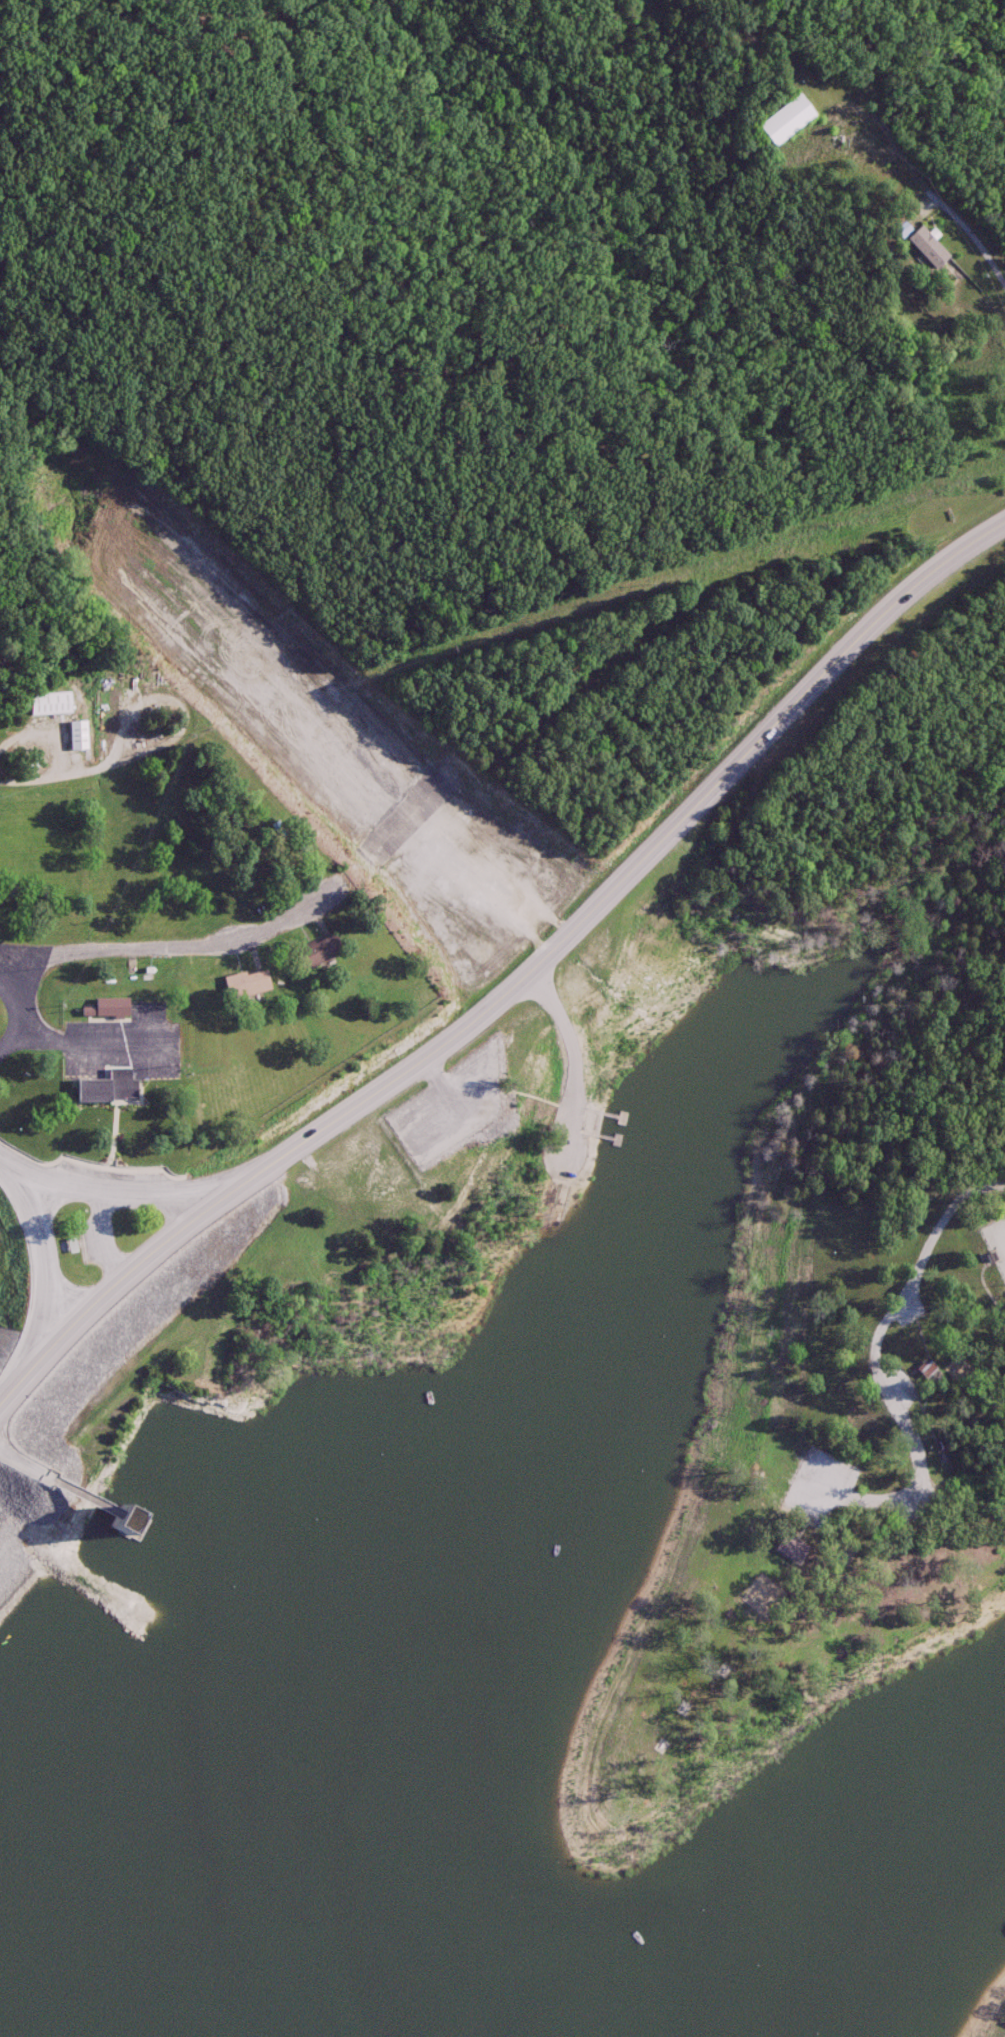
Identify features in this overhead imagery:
building: (784, 121)
road: (918, 177)
road: (994, 219)
building: (926, 249)
building: (75, 737)
road: (56, 753)
road: (187, 945)
building: (311, 953)
building: (244, 984)
road: (516, 991)
building: (107, 1008)
road: (21, 1015)
road: (84, 1045)
dam: (269, 1045)
building: (105, 1089)
road: (118, 1187)
road: (54, 1262)
road: (874, 1354)
building: (924, 1369)
building: (790, 1549)

